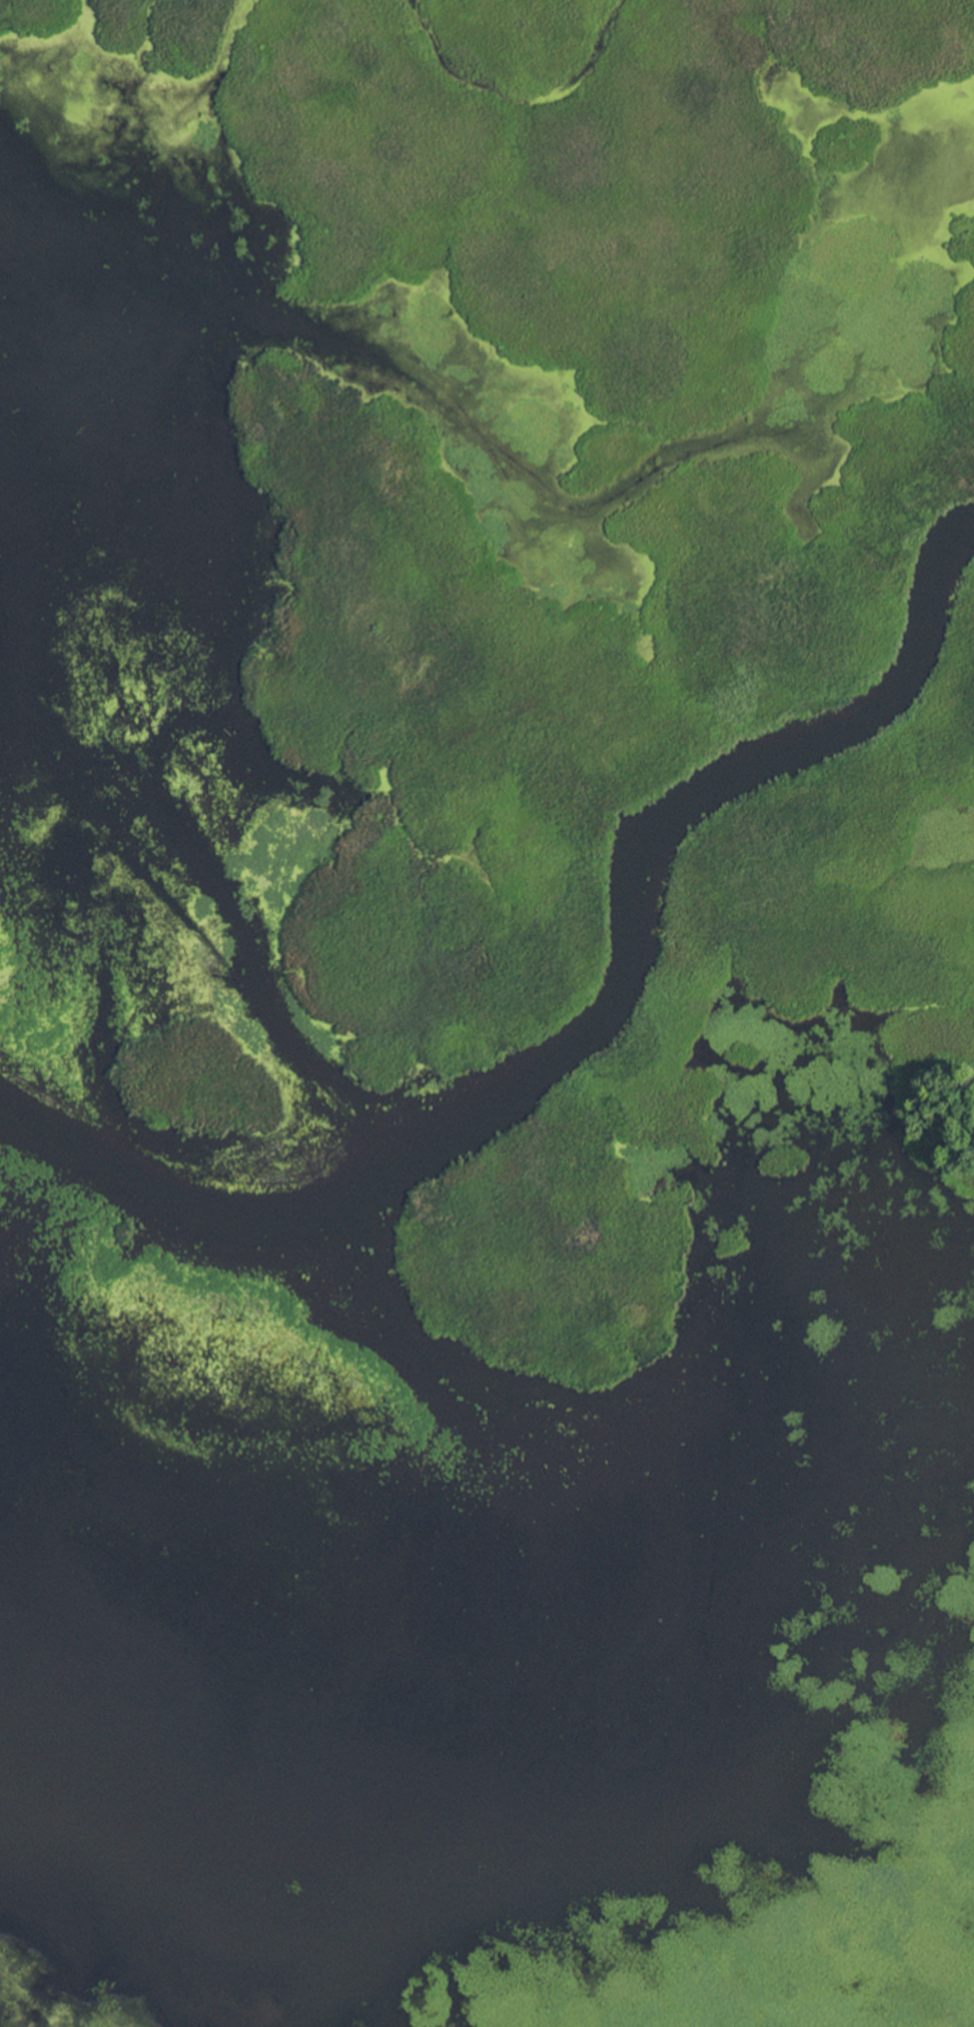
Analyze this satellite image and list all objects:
river: (589, 1024)

